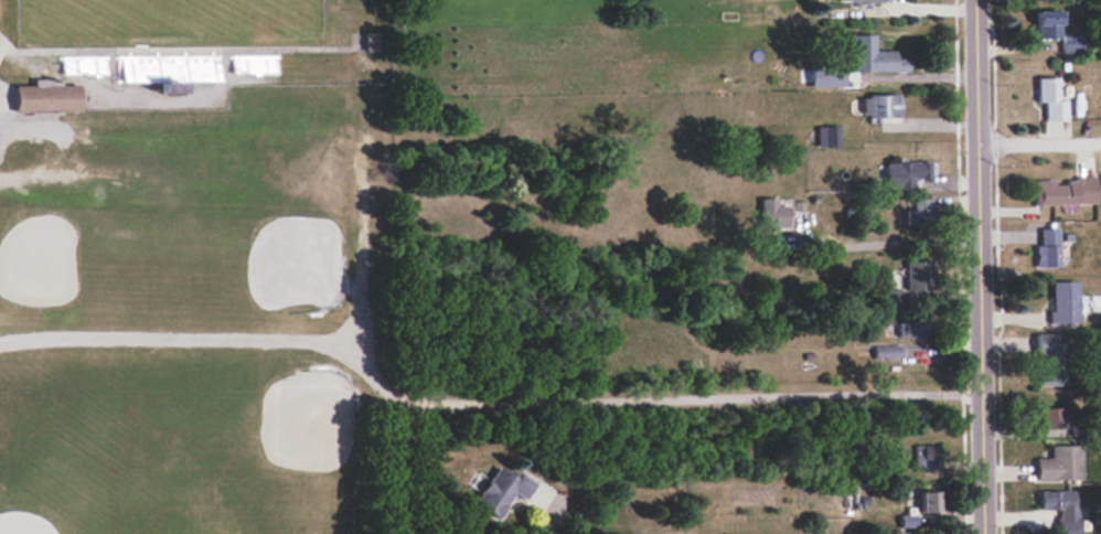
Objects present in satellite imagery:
building: (868, 1)
building: (1046, 24)
building: (372, 41)
building: (1071, 43)
building: (873, 56)
building: (825, 75)
road: (917, 75)
building: (46, 96)
building: (1050, 98)
building: (880, 106)
building: (827, 136)
road: (1039, 141)
building: (906, 173)
building: (1065, 191)
building: (772, 213)
building: (919, 213)
road: (894, 243)
building: (1047, 248)
road: (979, 266)
building: (916, 274)
building: (1061, 301)
building: (910, 328)
building: (884, 351)
building: (1048, 359)
road: (477, 406)
building: (1051, 421)
building: (922, 453)
building: (1059, 464)
building: (501, 490)
building: (928, 501)
building: (1060, 509)
road: (543, 523)

